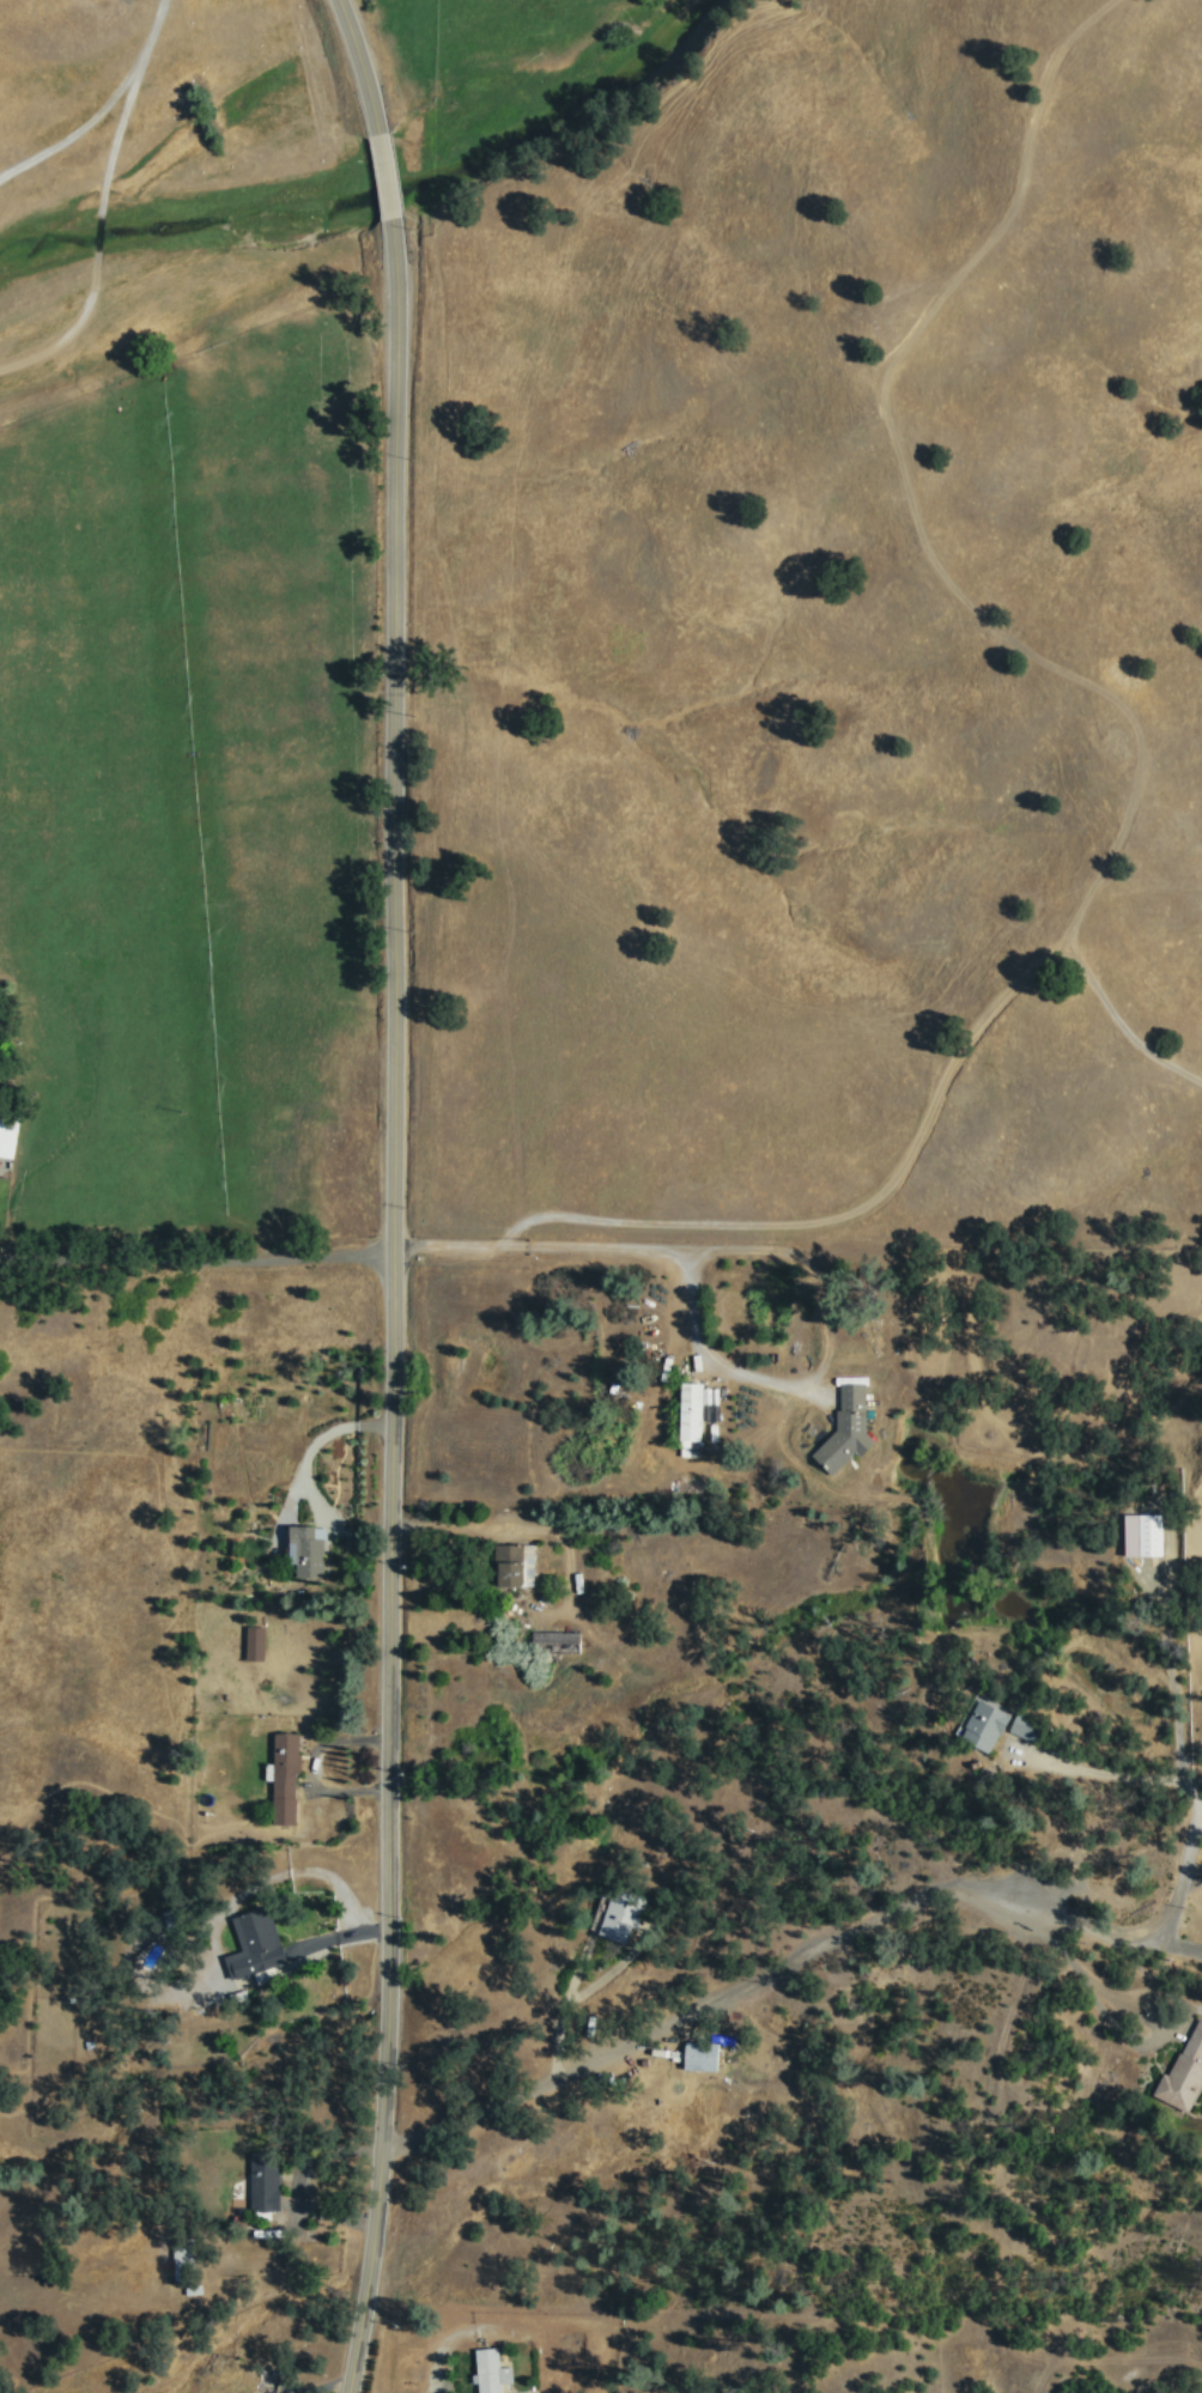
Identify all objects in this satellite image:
road: (363, 65)
road: (102, 105)
road: (388, 174)
building: (8, 1130)
road: (391, 1305)
building: (692, 1417)
building: (848, 1428)
building: (1152, 1533)
building: (308, 1549)
building: (518, 1563)
building: (559, 1638)
building: (256, 1641)
building: (985, 1723)
building: (1030, 1726)
building: (286, 1776)
road: (1190, 1876)
building: (623, 1915)
building: (256, 1943)
road: (785, 1975)
building: (702, 2054)
building: (1186, 2070)
building: (266, 2180)
building: (184, 2261)
building: (194, 2288)
building: (491, 2370)
road: (1034, 2380)
building: (522, 2392)

